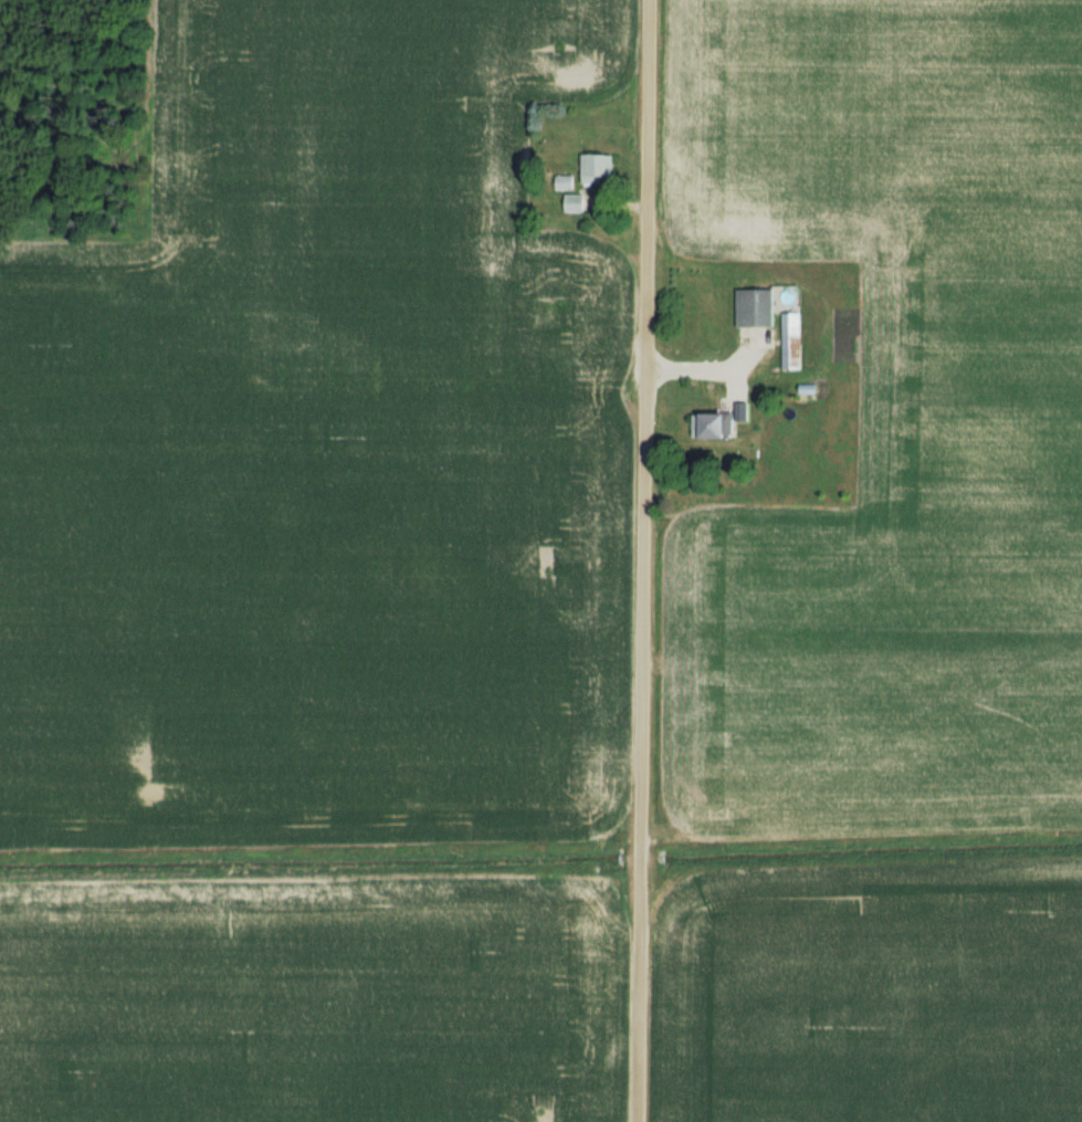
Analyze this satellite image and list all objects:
building: (596, 167)
building: (575, 203)
building: (755, 307)
building: (791, 340)
building: (712, 424)
road: (641, 560)

